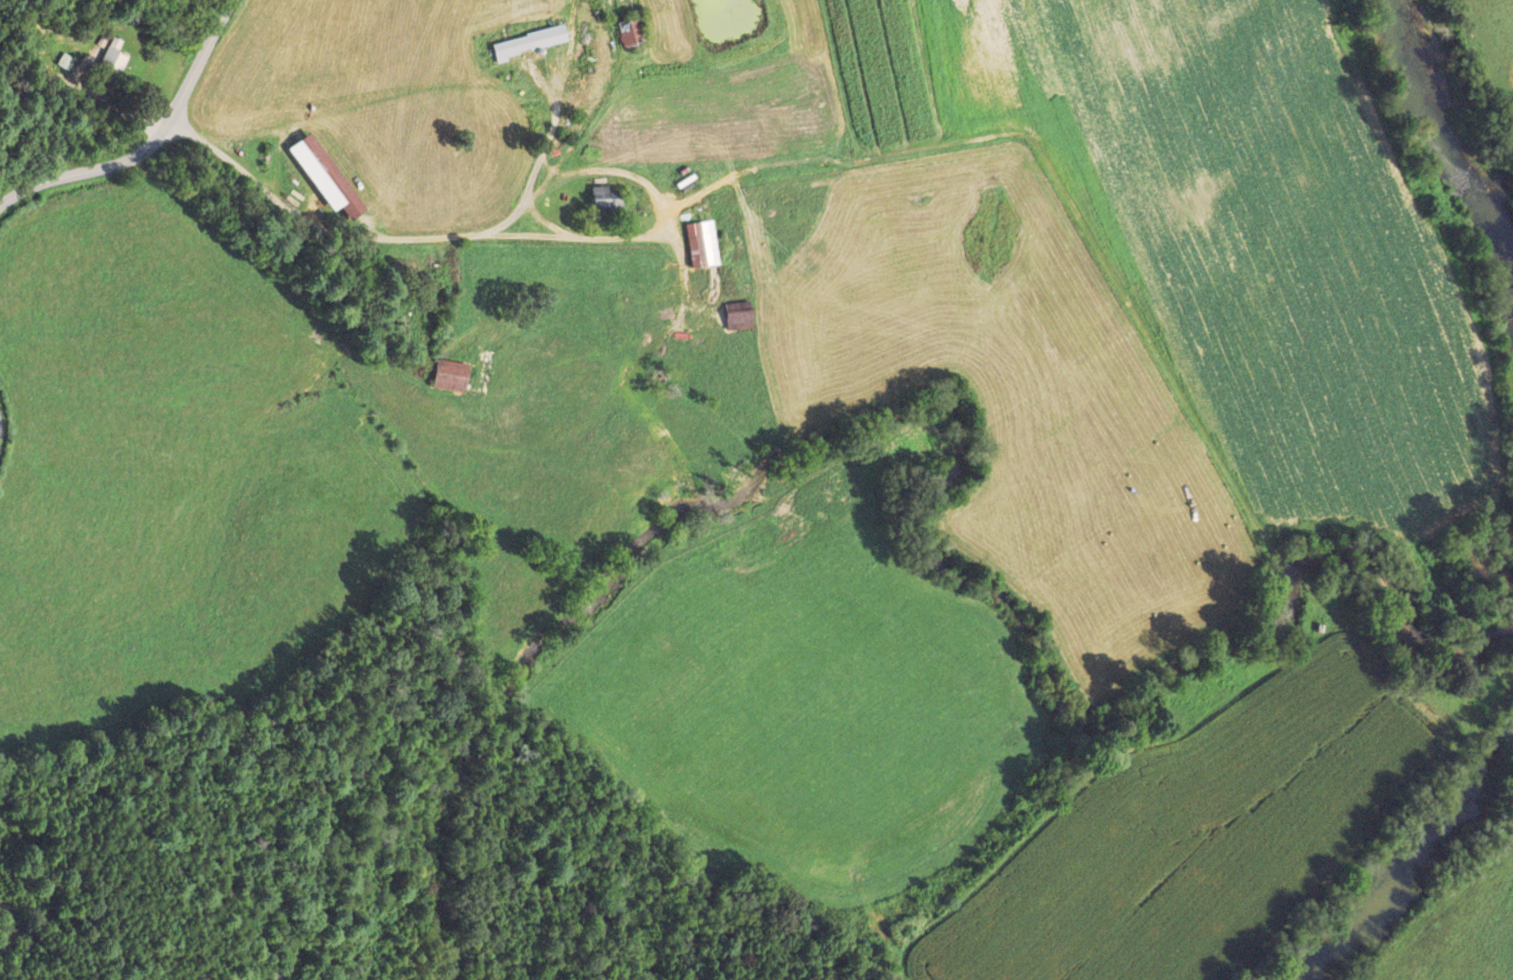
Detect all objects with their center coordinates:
building: (632, 30)
building: (531, 42)
building: (114, 58)
river: (1441, 113)
road: (150, 142)
building: (332, 176)
building: (608, 198)
river: (1504, 243)
building: (703, 244)
building: (740, 316)
building: (452, 376)
river: (1412, 873)

